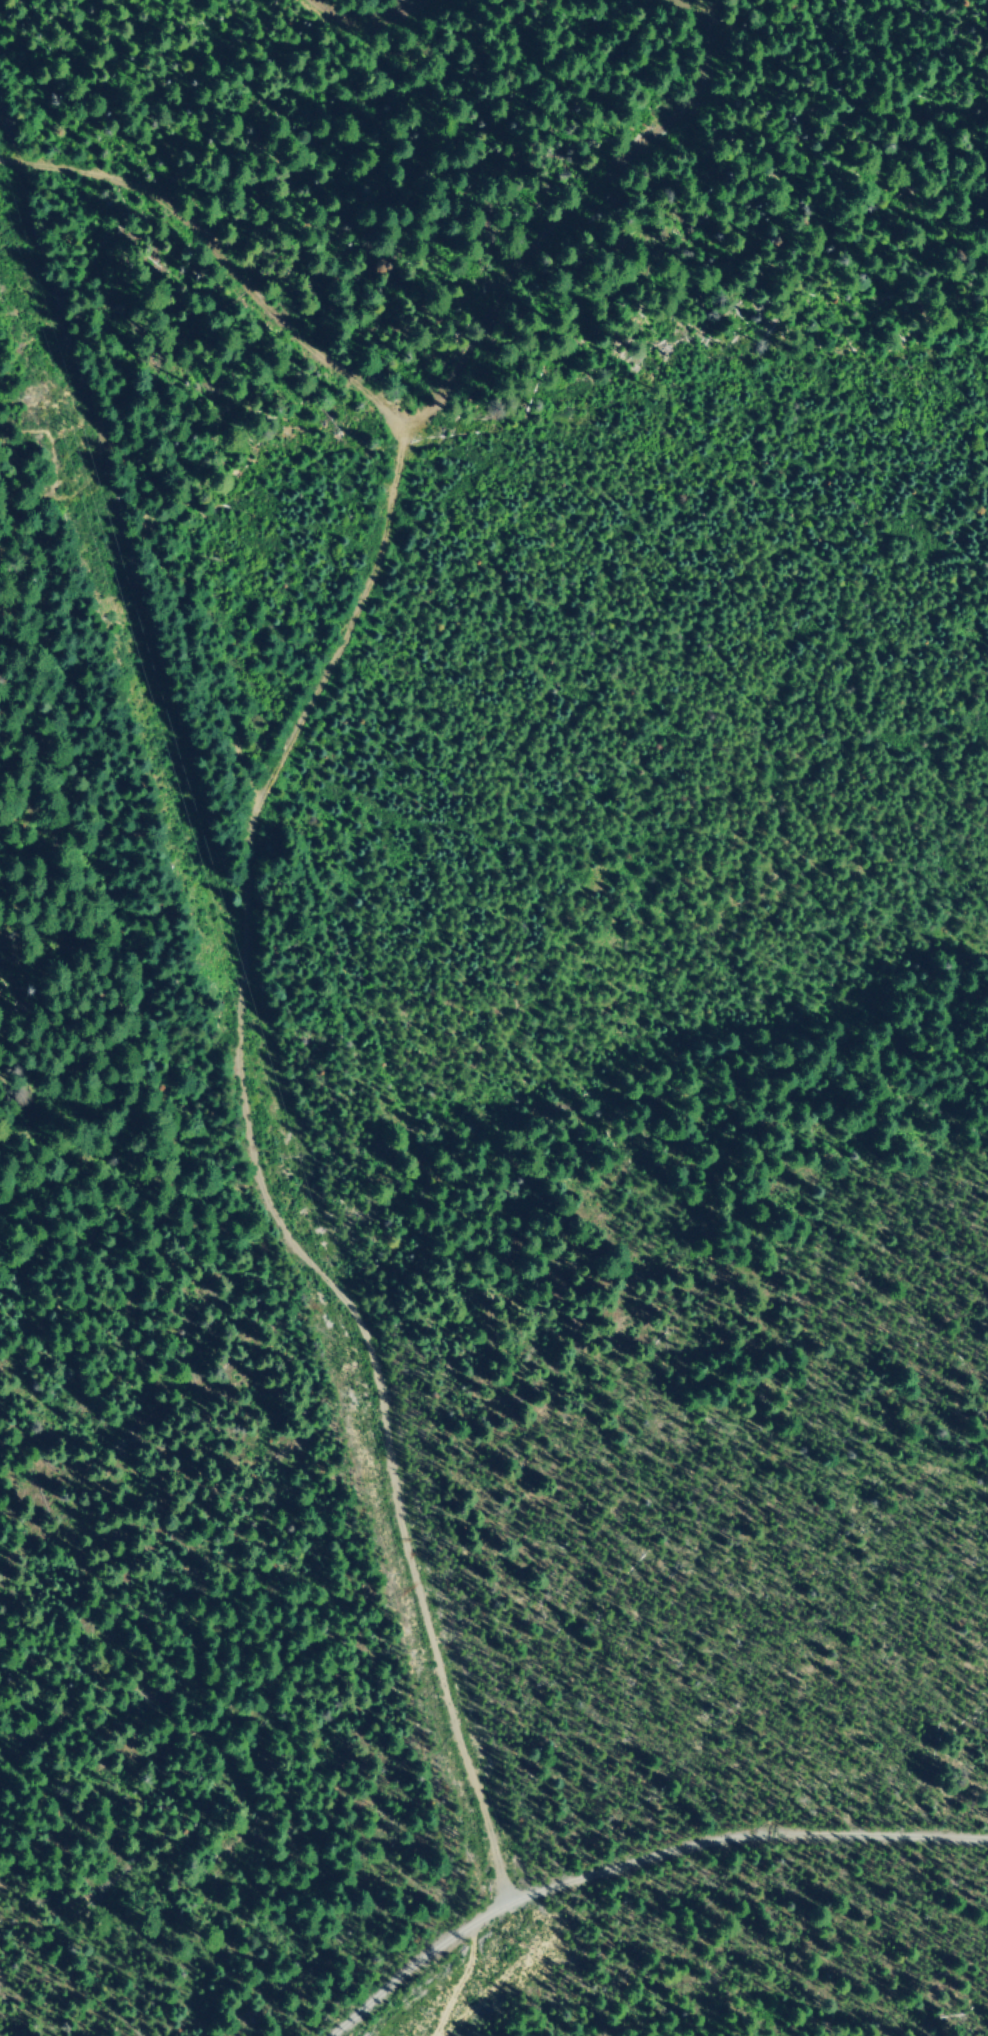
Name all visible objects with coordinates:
road: (327, 4)
road: (595, 201)
road: (224, 252)
road: (248, 1175)
road: (639, 1868)
road: (457, 1974)

